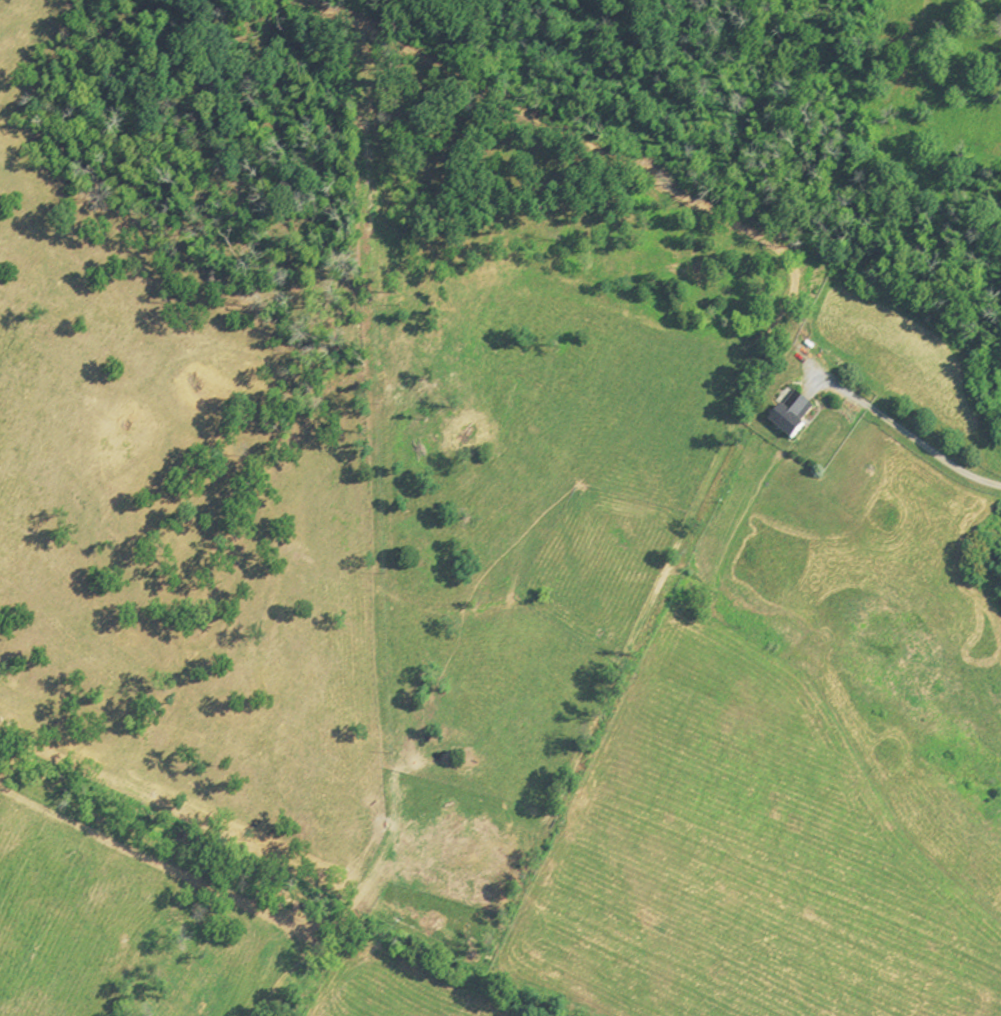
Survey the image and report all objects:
building: (788, 416)
road: (930, 452)

